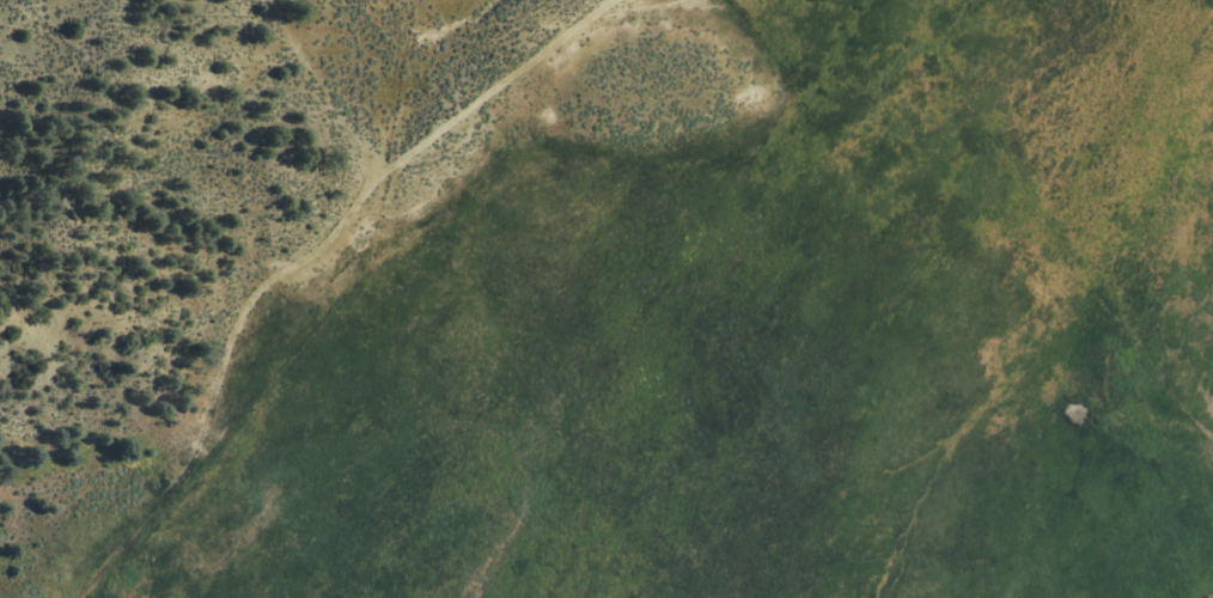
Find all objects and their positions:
road: (295, 262)

